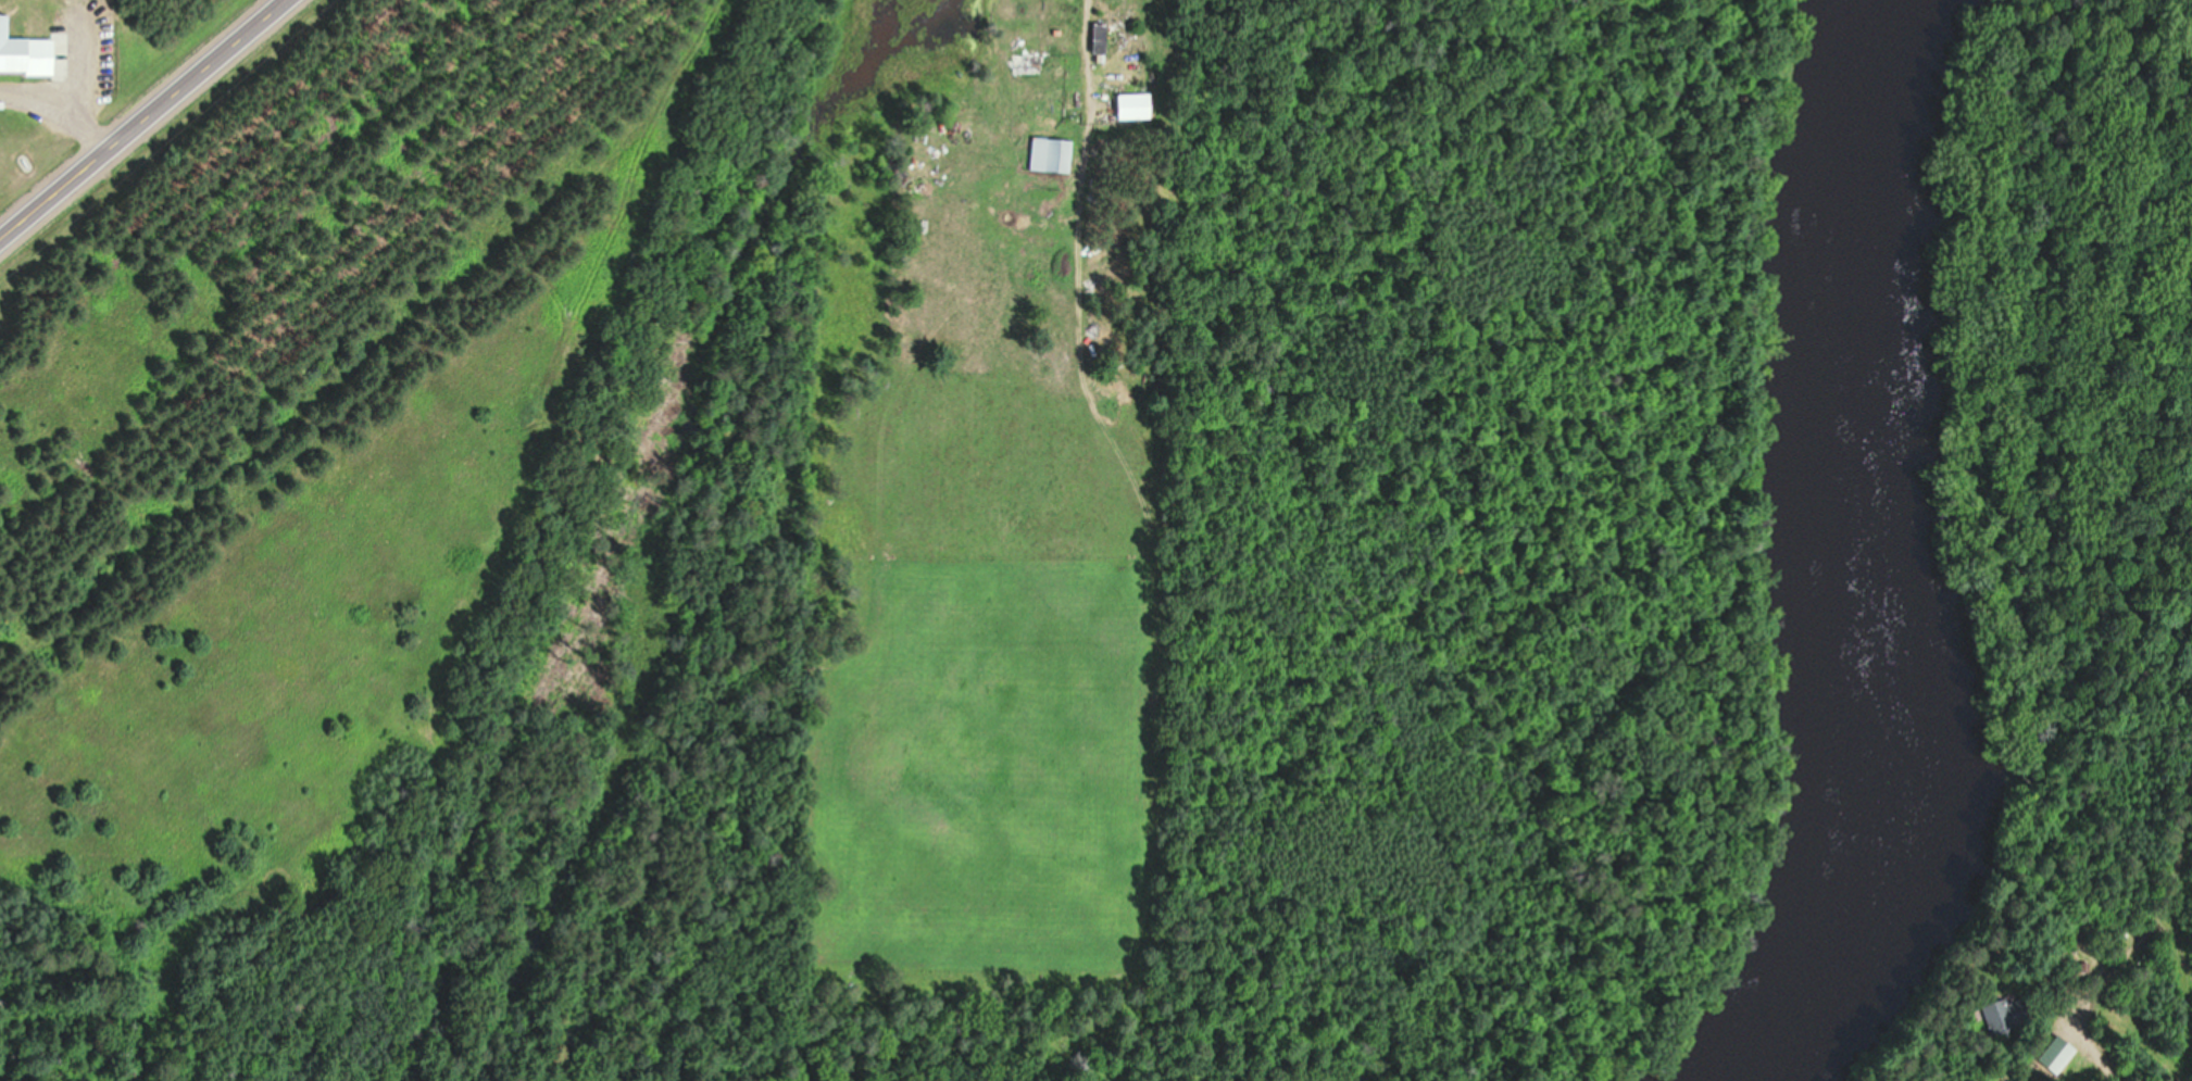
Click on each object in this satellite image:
building: (1102, 36)
building: (24, 54)
building: (1044, 61)
road: (1067, 77)
building: (1132, 102)
road: (147, 121)
building: (1050, 153)
river: (1866, 561)
building: (2000, 1015)
road: (2159, 1046)
building: (2054, 1054)

